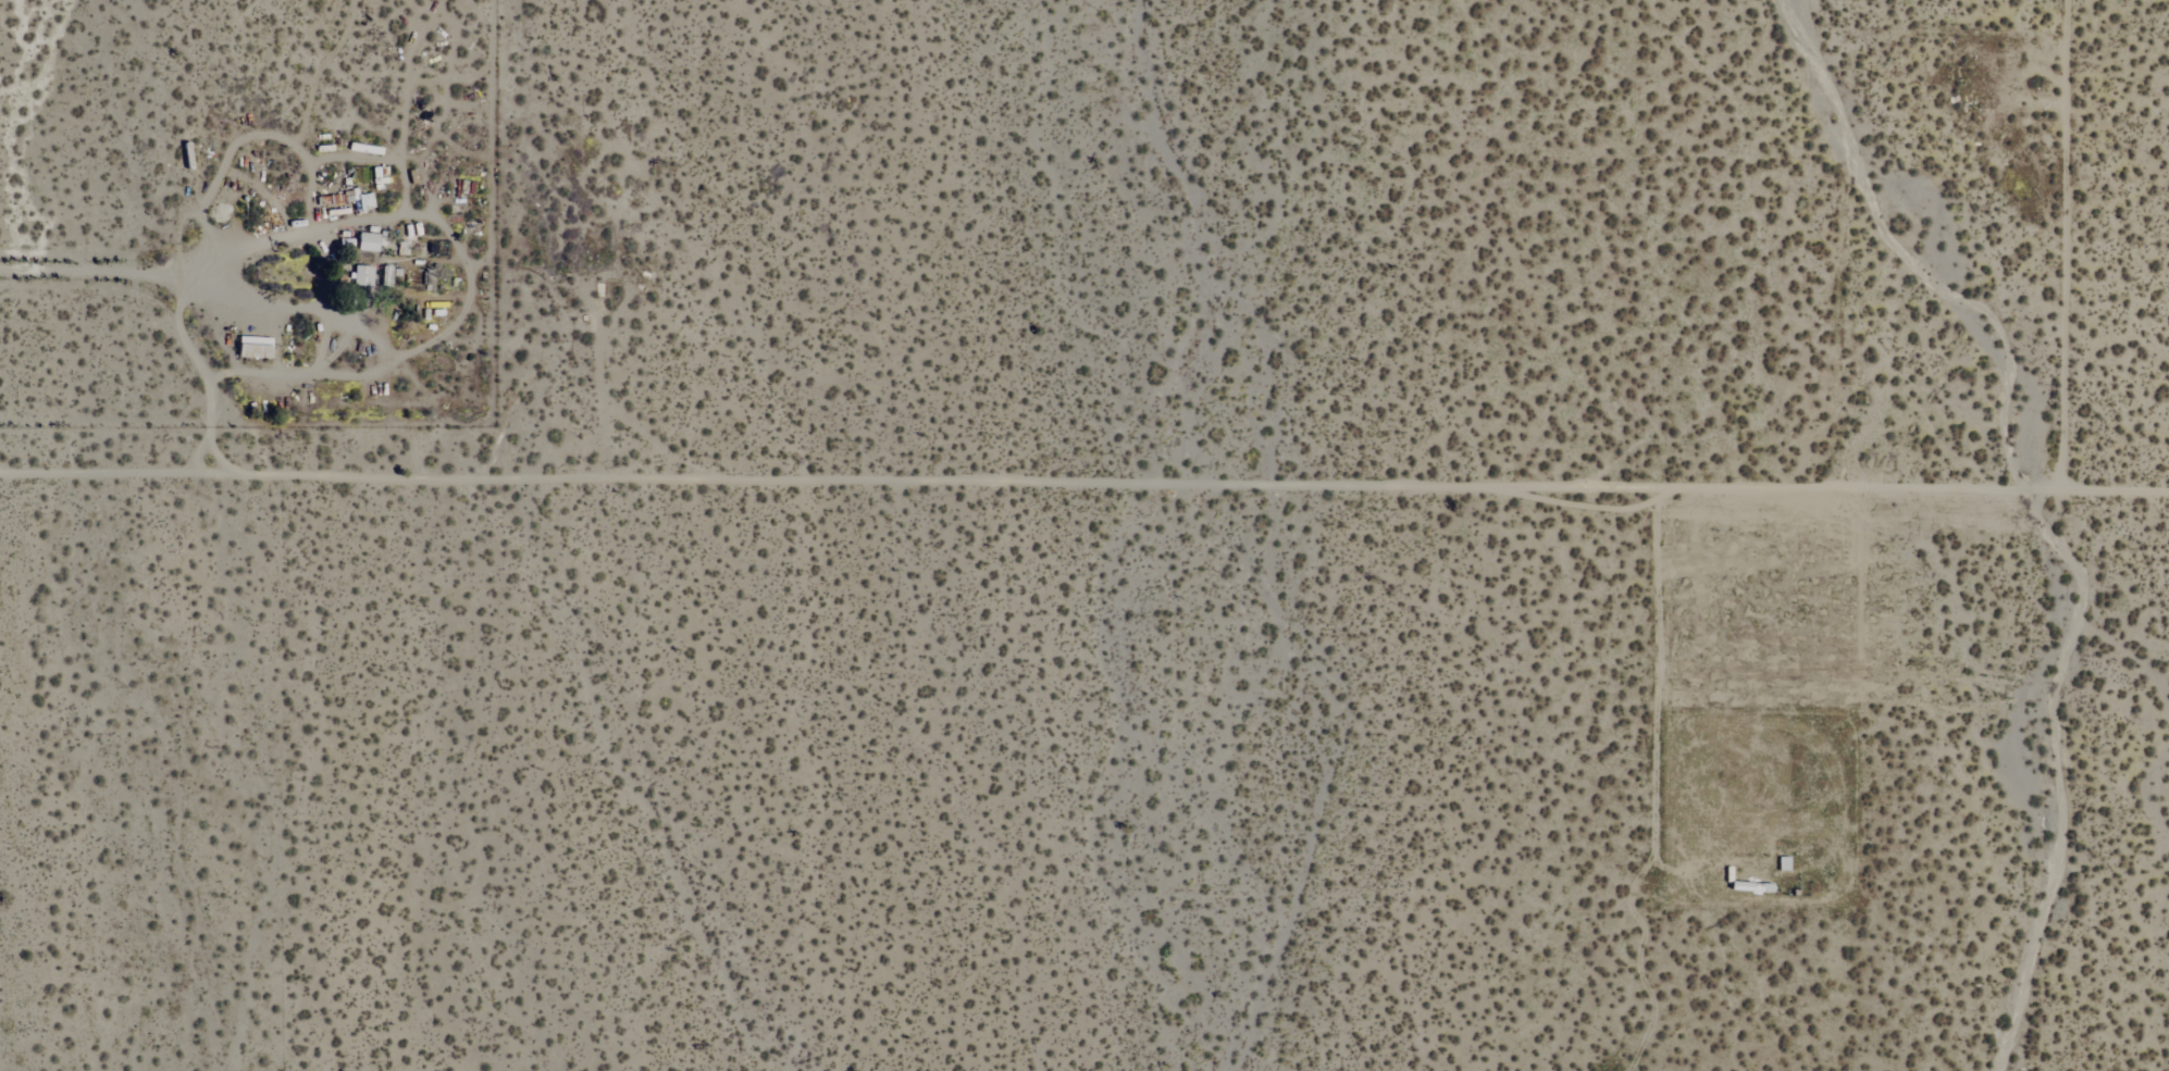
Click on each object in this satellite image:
road: (522, 236)
road: (174, 278)
road: (208, 446)
road: (1083, 476)
road: (1579, 506)
road: (1653, 714)
road: (2055, 771)
road: (1638, 962)

